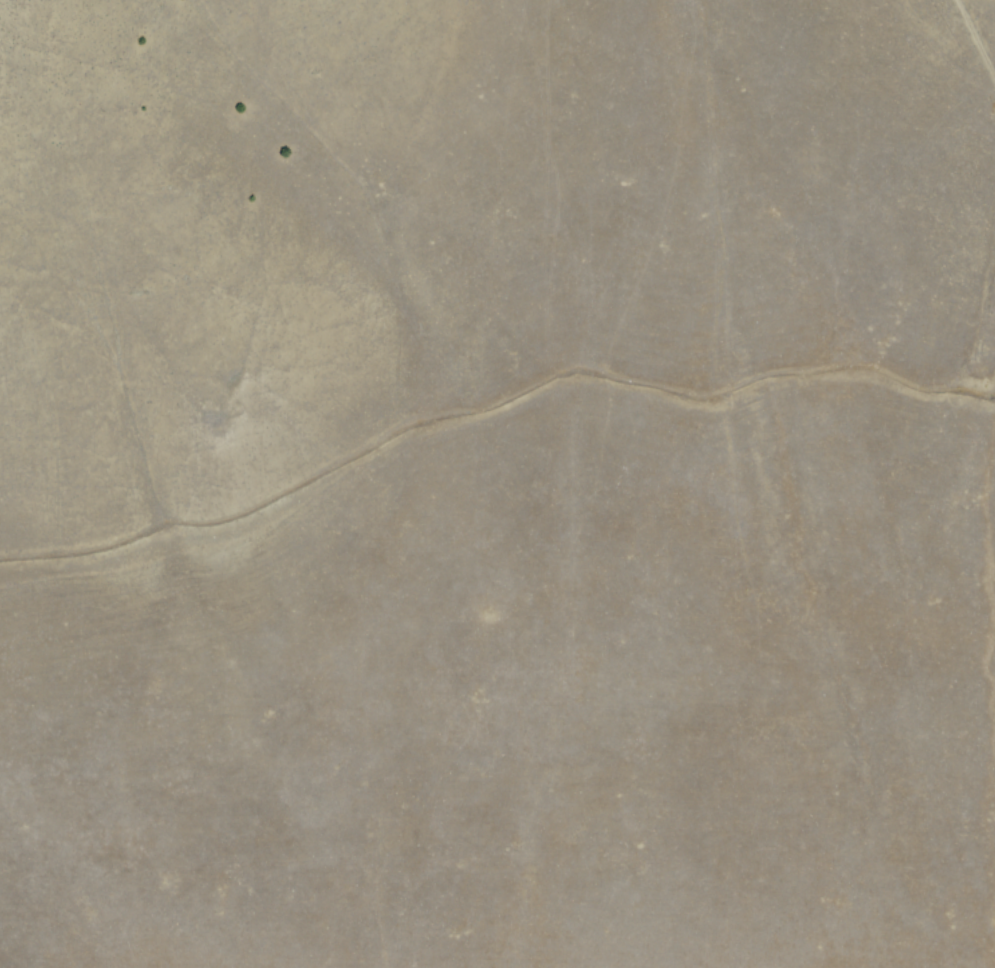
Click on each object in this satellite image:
road: (970, 48)

